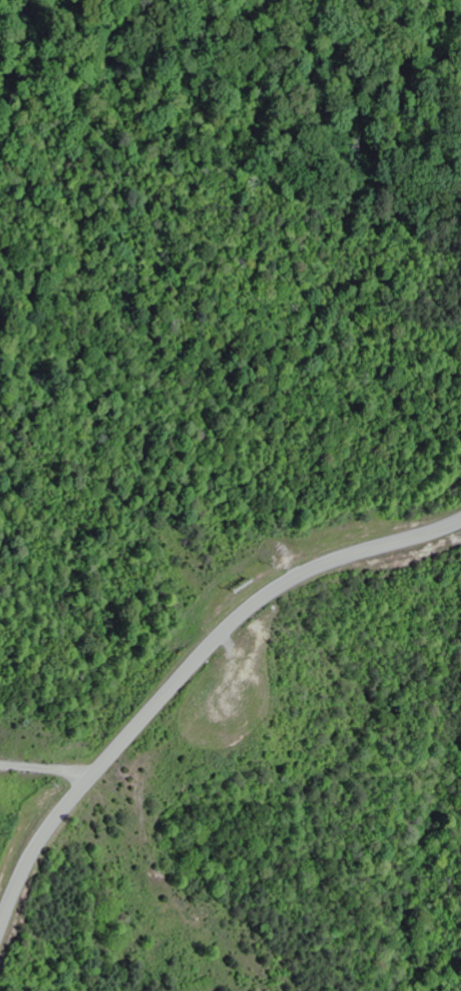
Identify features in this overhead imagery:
road: (186, 673)
road: (45, 769)

